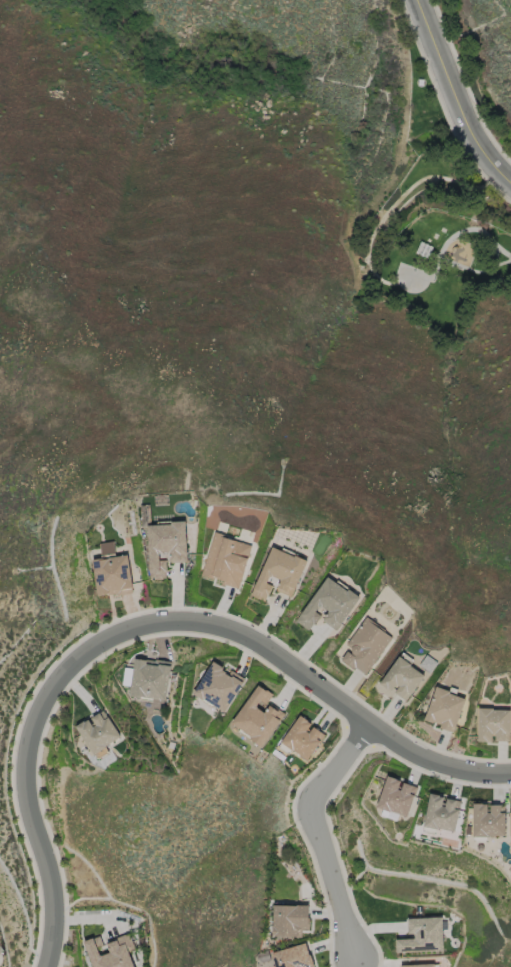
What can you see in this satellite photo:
road: (454, 96)
building: (225, 560)
building: (111, 571)
building: (278, 573)
building: (327, 605)
road: (148, 632)
building: (364, 646)
building: (149, 679)
building: (399, 679)
building: (217, 685)
building: (443, 708)
building: (256, 717)
building: (492, 724)
building: (97, 731)
building: (301, 737)
building: (394, 796)
building: (440, 813)
building: (487, 820)
road: (321, 840)
building: (289, 920)
building: (421, 935)
building: (111, 952)
building: (292, 956)
building: (418, 965)

